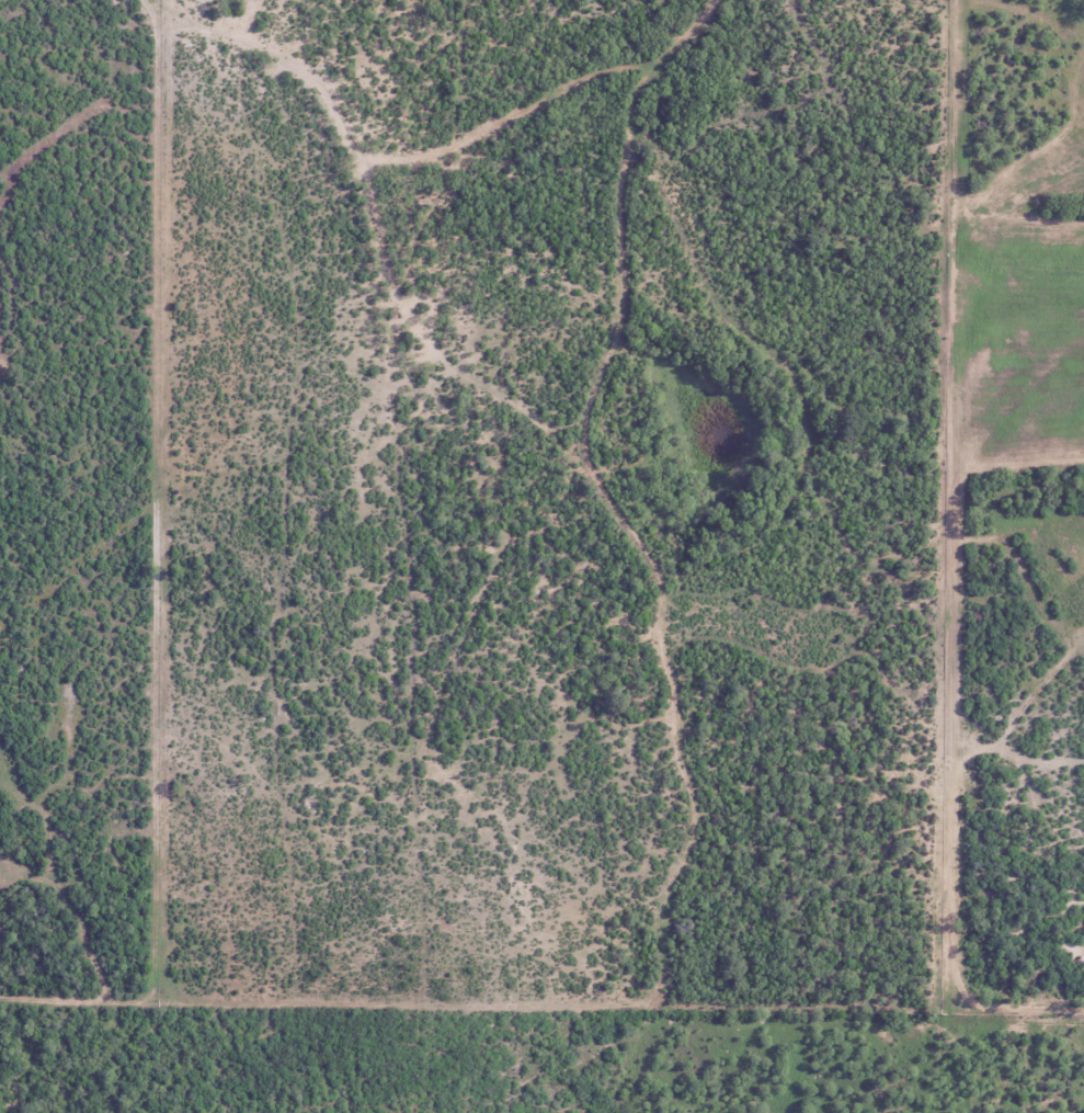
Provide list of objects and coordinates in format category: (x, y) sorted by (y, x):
road: (729, 26)

